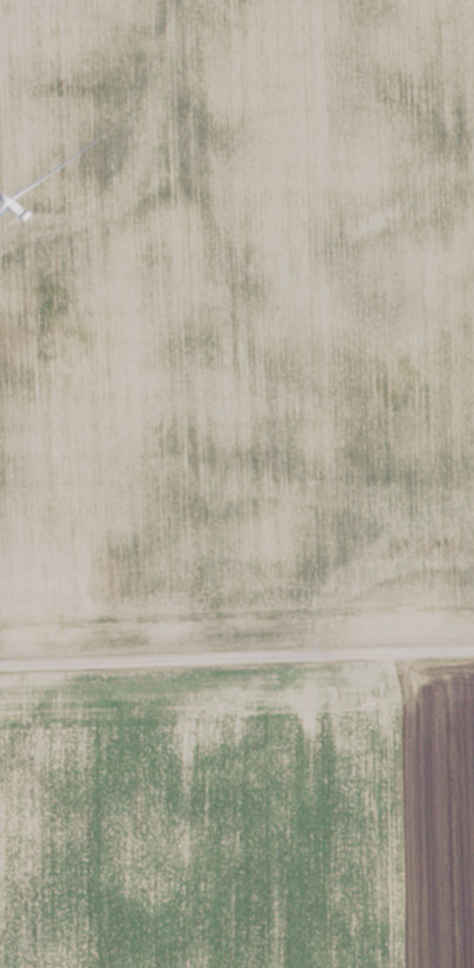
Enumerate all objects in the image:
road: (237, 667)

